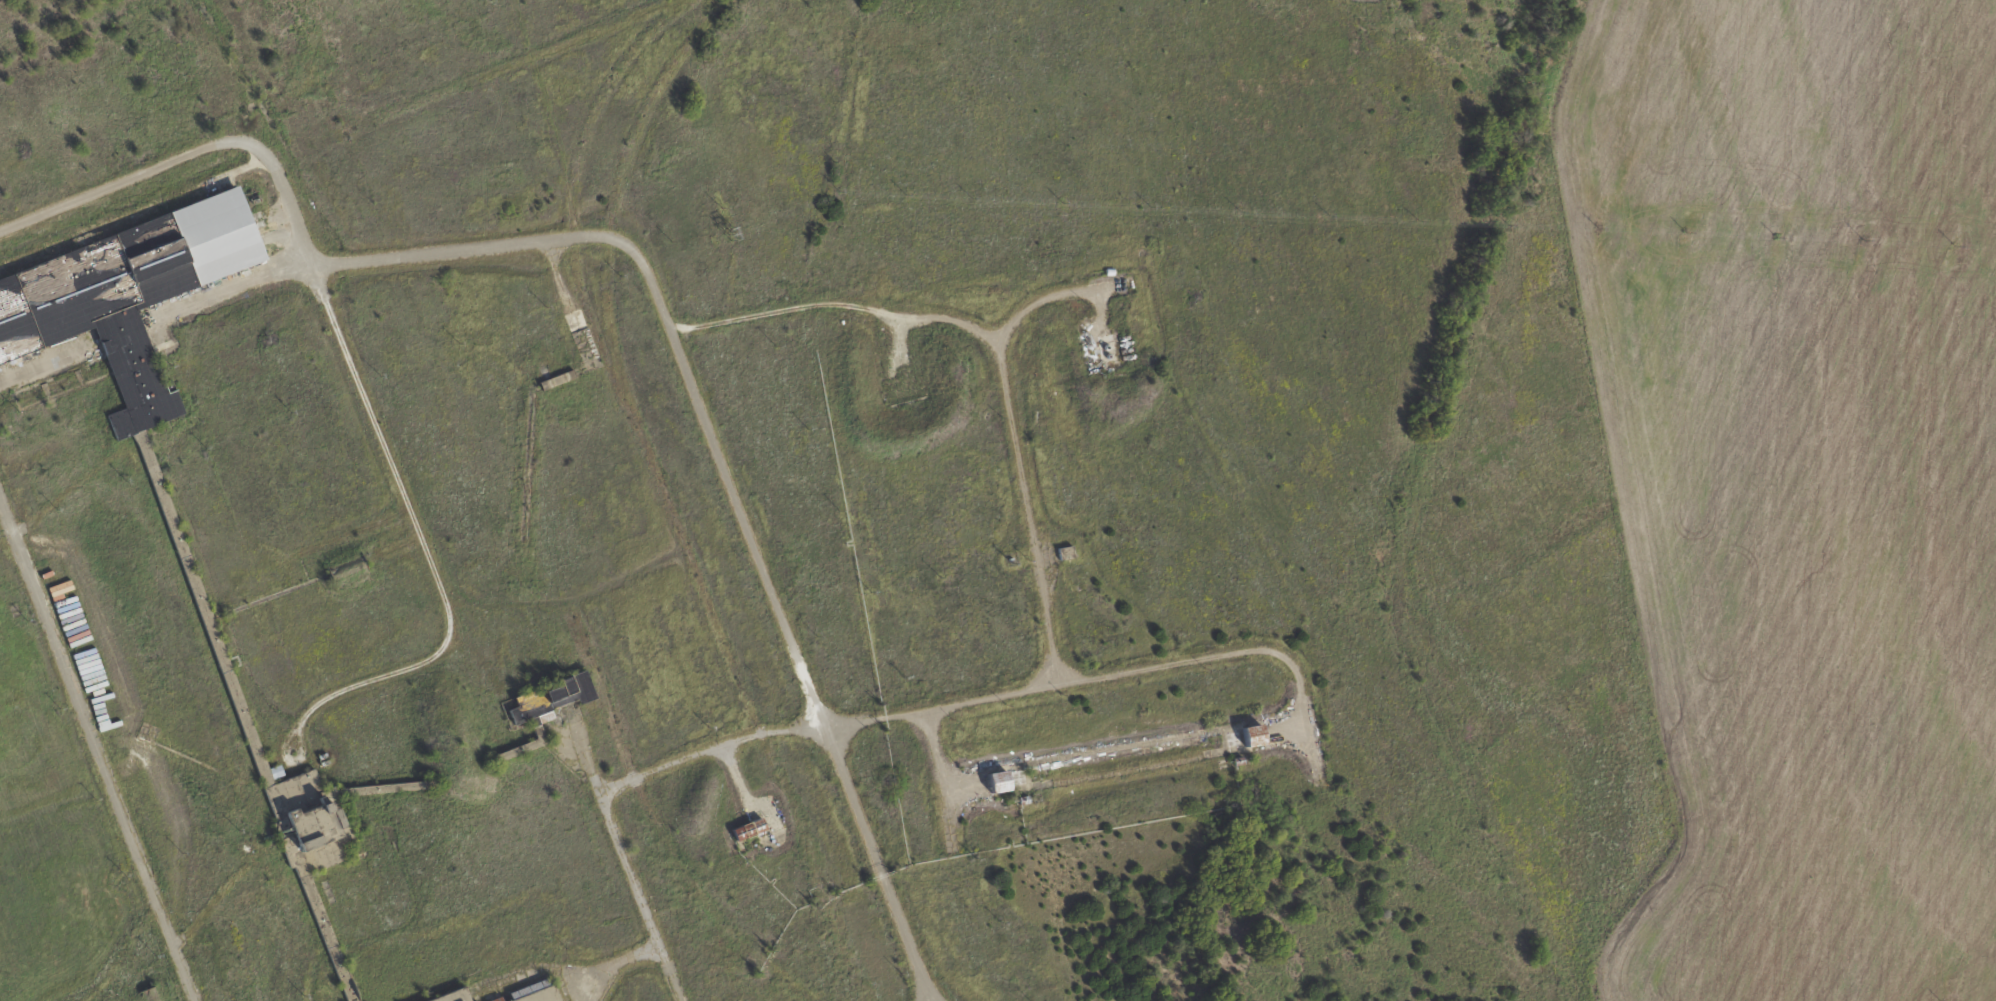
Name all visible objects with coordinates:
railway: (465, 82)
railway: (617, 156)
road: (136, 175)
road: (232, 287)
road: (836, 304)
road: (41, 365)
road: (705, 423)
road: (1014, 440)
railway: (666, 496)
road: (428, 547)
building: (1066, 551)
building: (187, 554)
road: (1113, 672)
road: (1288, 730)
building: (1252, 735)
road: (711, 745)
road: (96, 749)
road: (736, 776)
building: (998, 780)
road: (942, 781)
road: (962, 786)
building: (748, 828)
railway: (660, 829)
road: (628, 854)
road: (618, 965)
building: (530, 992)
building: (453, 995)
building: (120, 1000)

